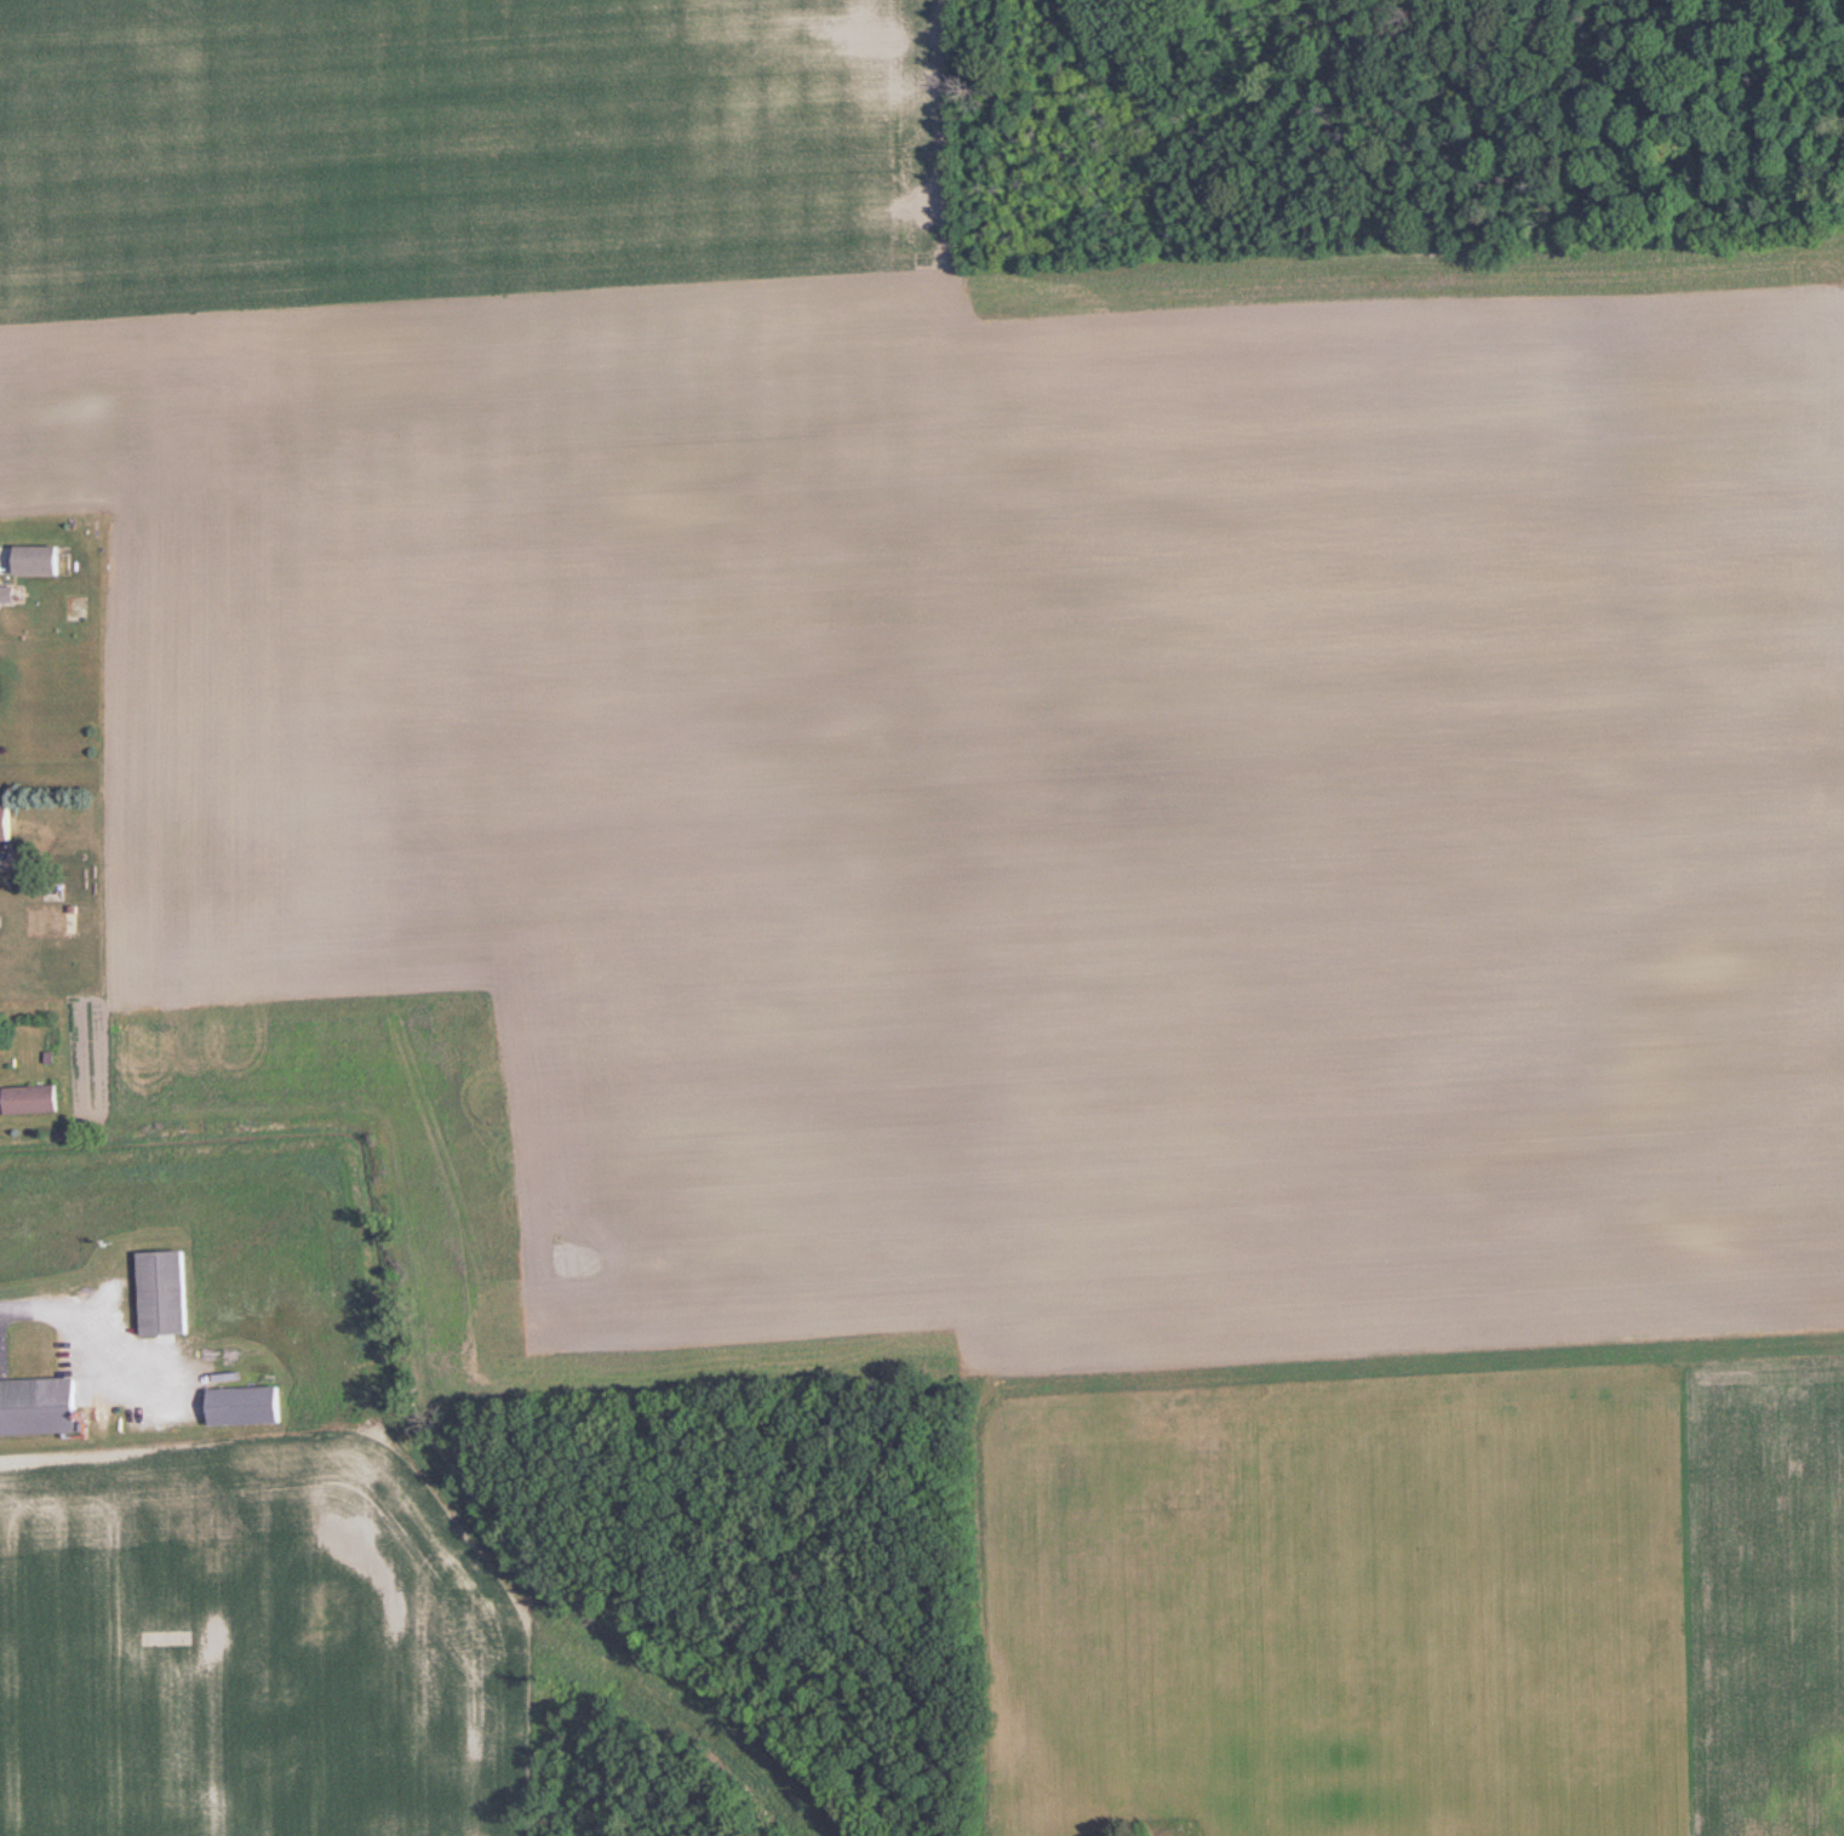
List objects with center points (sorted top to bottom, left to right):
building: (39, 560)
building: (6, 819)
building: (34, 1098)
road: (84, 1285)
building: (167, 1292)
building: (248, 1405)
building: (41, 1406)

